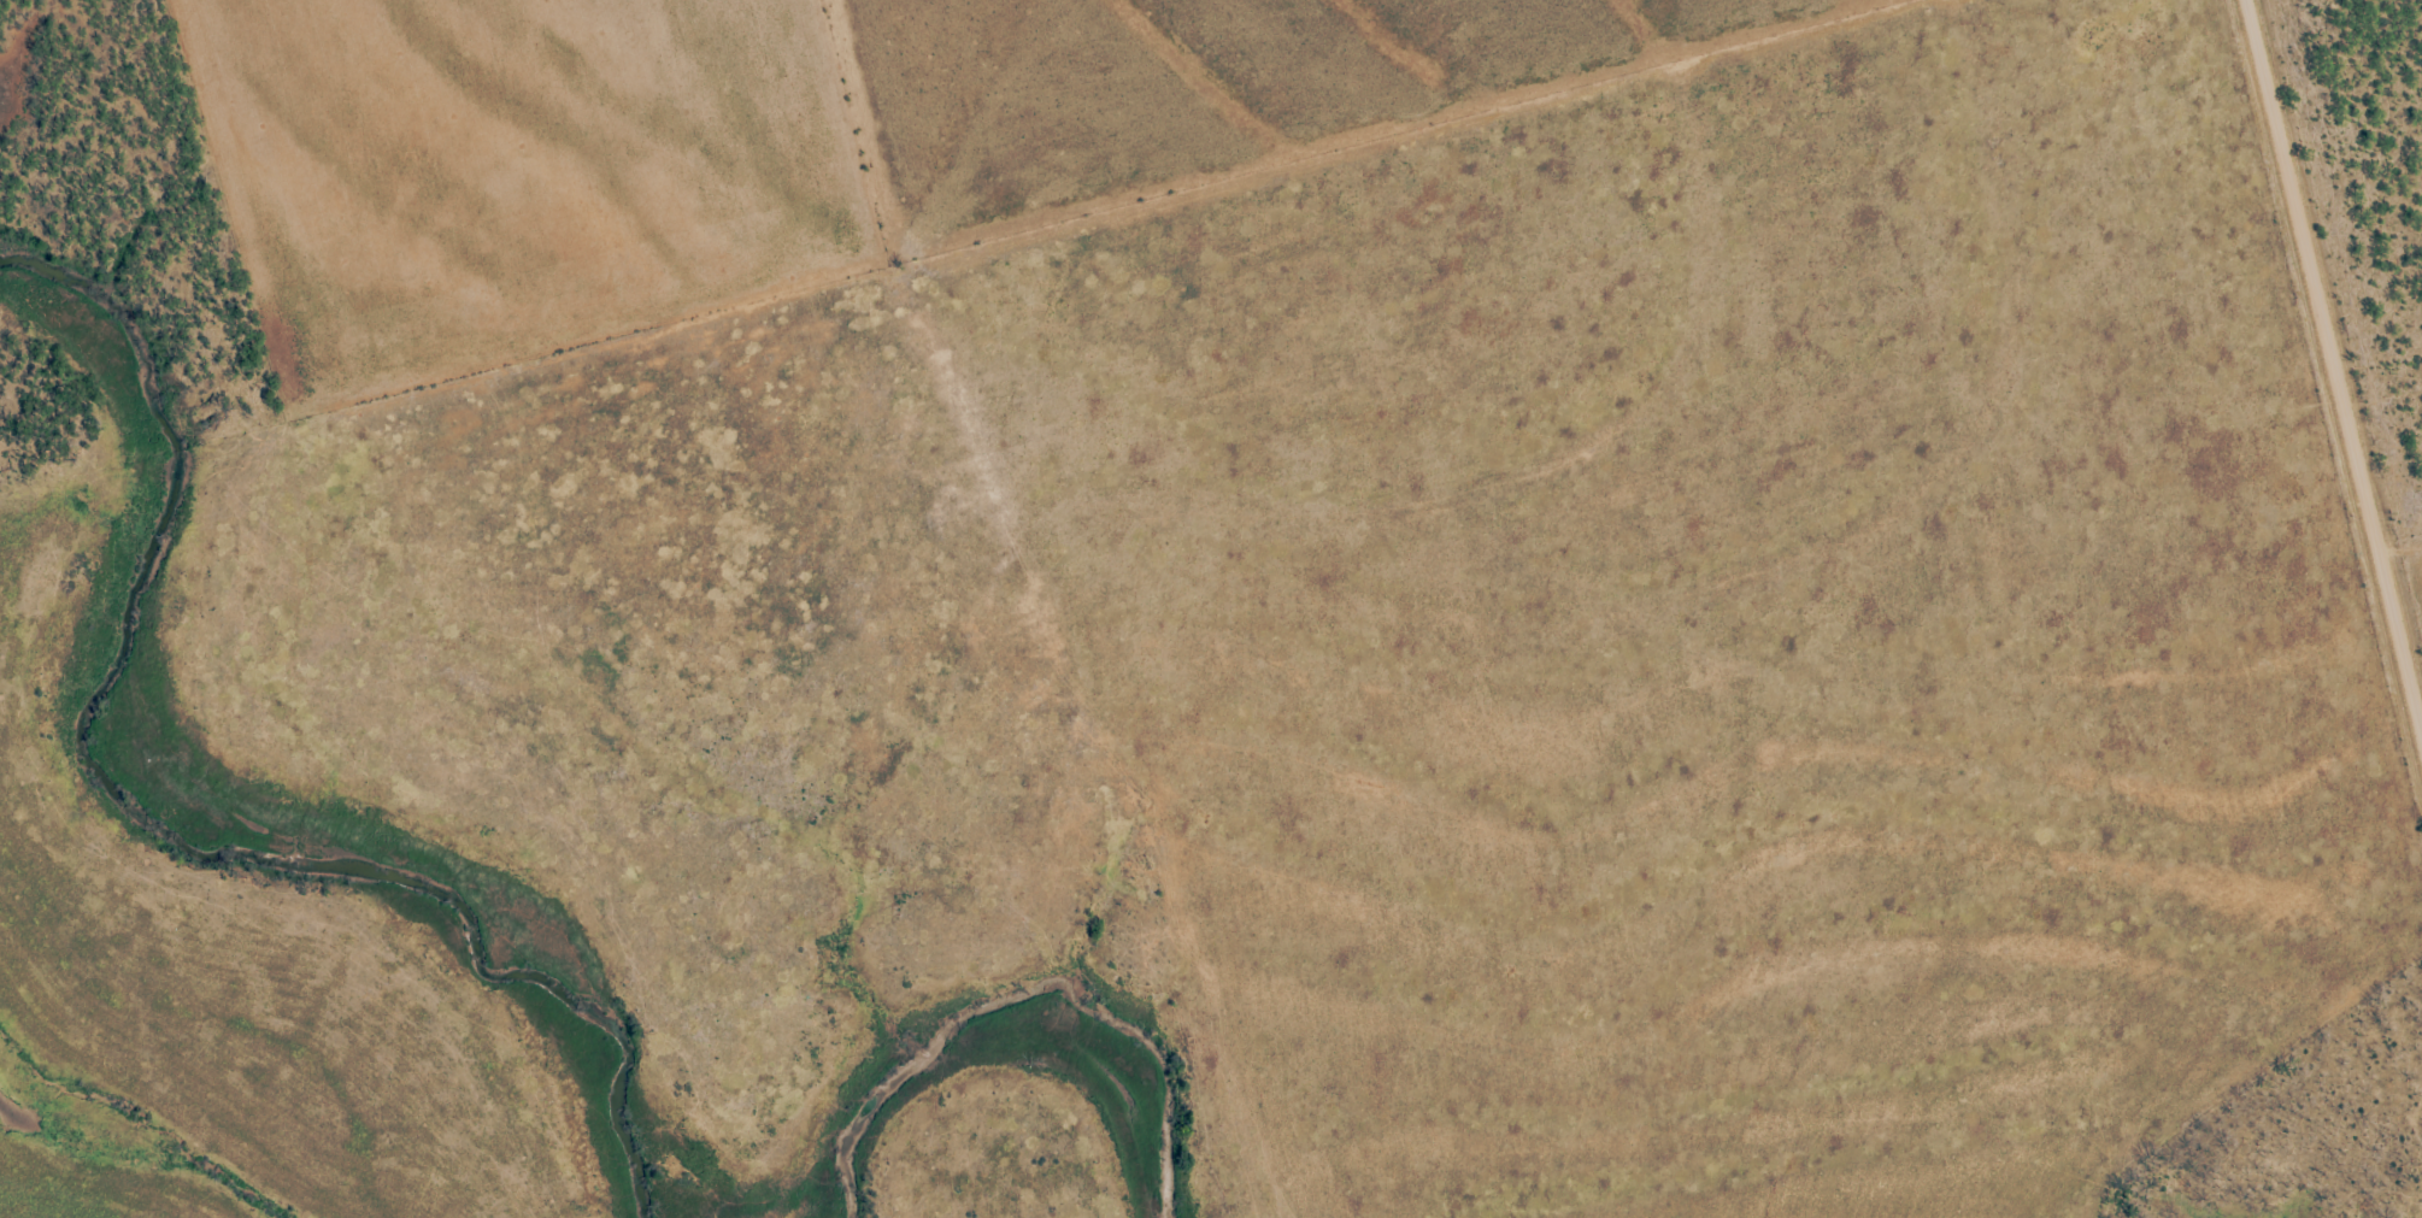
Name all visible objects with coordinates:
road: (2336, 357)

